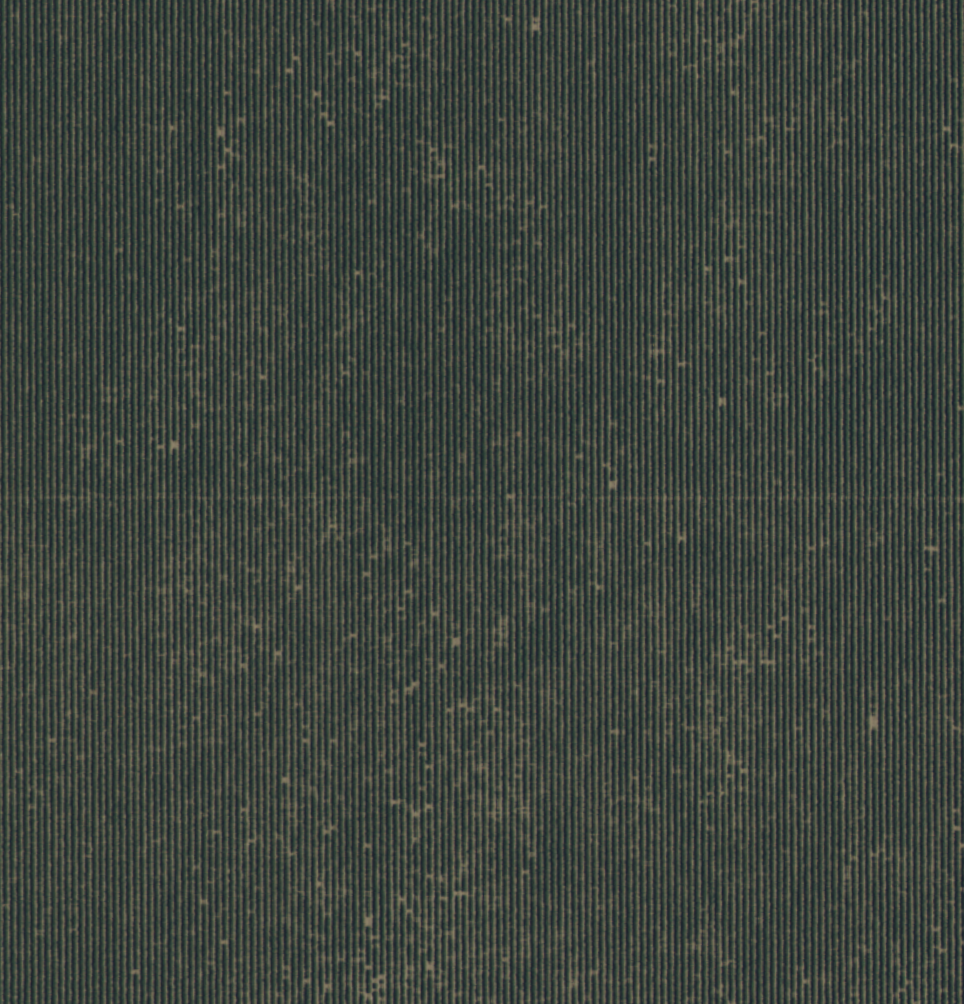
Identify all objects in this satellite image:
crop: (482, 502)

